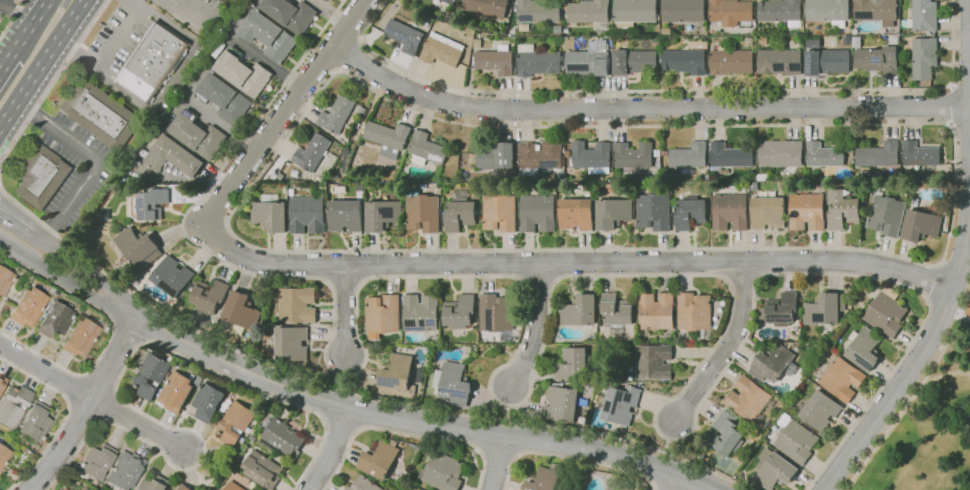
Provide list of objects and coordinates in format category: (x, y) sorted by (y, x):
building: (325, 0)
road: (7, 2)
building: (444, 4)
parking lot: (5, 7)
building: (488, 7)
road: (16, 9)
building: (539, 11)
building: (589, 11)
building: (683, 11)
building: (731, 11)
building: (828, 11)
building: (876, 11)
building: (634, 12)
building: (782, 12)
road: (330, 13)
building: (291, 14)
building: (924, 15)
building: (379, 17)
road: (11, 18)
road: (31, 21)
building: (567, 29)
building: (666, 30)
building: (269, 36)
building: (405, 36)
building: (750, 41)
building: (857, 41)
building: (478, 42)
building: (567, 42)
building: (442, 49)
road: (106, 51)
road: (350, 55)
building: (924, 57)
building: (495, 59)
building: (877, 59)
building: (590, 60)
building: (827, 60)
road: (5, 61)
building: (152, 61)
building: (538, 61)
building: (635, 61)
building: (685, 61)
building: (732, 61)
building: (780, 61)
road: (267, 62)
road: (42, 66)
building: (243, 72)
road: (172, 76)
road: (54, 81)
road: (960, 86)
road: (670, 89)
building: (225, 99)
road: (950, 107)
building: (357, 108)
road: (644, 108)
road: (284, 113)
building: (100, 114)
building: (339, 117)
road: (223, 123)
road: (960, 127)
building: (197, 135)
building: (388, 137)
building: (426, 149)
building: (665, 152)
building: (567, 153)
building: (657, 153)
building: (781, 153)
building: (314, 154)
building: (824, 154)
building: (878, 154)
building: (920, 154)
building: (633, 155)
building: (689, 155)
building: (730, 155)
building: (540, 156)
building: (173, 157)
building: (495, 157)
building: (592, 157)
road: (94, 165)
building: (944, 166)
building: (41, 176)
building: (279, 176)
building: (303, 180)
building: (292, 192)
building: (148, 204)
building: (843, 208)
building: (461, 211)
building: (653, 211)
building: (730, 211)
building: (807, 211)
building: (690, 212)
building: (768, 212)
building: (270, 213)
building: (307, 213)
building: (423, 213)
building: (499, 213)
building: (538, 213)
building: (613, 213)
building: (345, 214)
building: (576, 214)
building: (383, 215)
building: (886, 215)
building: (922, 223)
road: (14, 236)
building: (136, 247)
road: (865, 250)
road: (571, 264)
building: (172, 276)
building: (5, 280)
building: (207, 298)
road: (965, 302)
building: (298, 305)
building: (29, 307)
building: (824, 308)
building: (782, 309)
building: (241, 310)
building: (580, 310)
road: (344, 311)
building: (656, 311)
building: (459, 312)
building: (694, 312)
building: (886, 312)
building: (383, 313)
building: (420, 313)
building: (497, 313)
building: (618, 318)
road: (965, 318)
building: (55, 320)
road: (535, 328)
road: (129, 329)
road: (112, 333)
building: (496, 335)
building: (80, 338)
building: (291, 343)
road: (726, 348)
building: (865, 349)
road: (539, 353)
building: (653, 361)
building: (576, 362)
road: (911, 362)
building: (772, 363)
road: (45, 370)
building: (151, 374)
road: (945, 374)
building: (397, 377)
building: (842, 379)
road: (339, 381)
building: (2, 382)
building: (453, 383)
road: (116, 389)
road: (349, 391)
building: (176, 392)
building: (749, 400)
building: (208, 402)
building: (563, 402)
building: (621, 404)
building: (14, 405)
road: (906, 405)
road: (85, 408)
road: (352, 408)
building: (819, 409)
road: (503, 411)
road: (67, 416)
road: (322, 418)
park: (926, 421)
road: (340, 422)
building: (35, 423)
building: (235, 423)
building: (767, 424)
road: (140, 427)
road: (358, 429)
road: (405, 433)
building: (727, 433)
building: (282, 436)
building: (253, 438)
building: (795, 439)
road: (664, 445)
road: (331, 450)
road: (479, 450)
road: (497, 452)
road: (516, 455)
building: (4, 456)
road: (571, 458)
building: (736, 458)
building: (380, 459)
building: (97, 461)
road: (496, 461)
building: (288, 462)
building: (234, 465)
building: (262, 468)
building: (774, 469)
building: (126, 470)
building: (442, 471)
building: (546, 479)
road: (653, 482)
road: (676, 483)
building: (154, 484)
building: (365, 484)
building: (620, 484)
building: (233, 486)
road: (661, 486)
building: (77, 487)
building: (184, 487)
building: (349, 488)
building: (64, 489)
building: (604, 489)
building: (608, 489)

